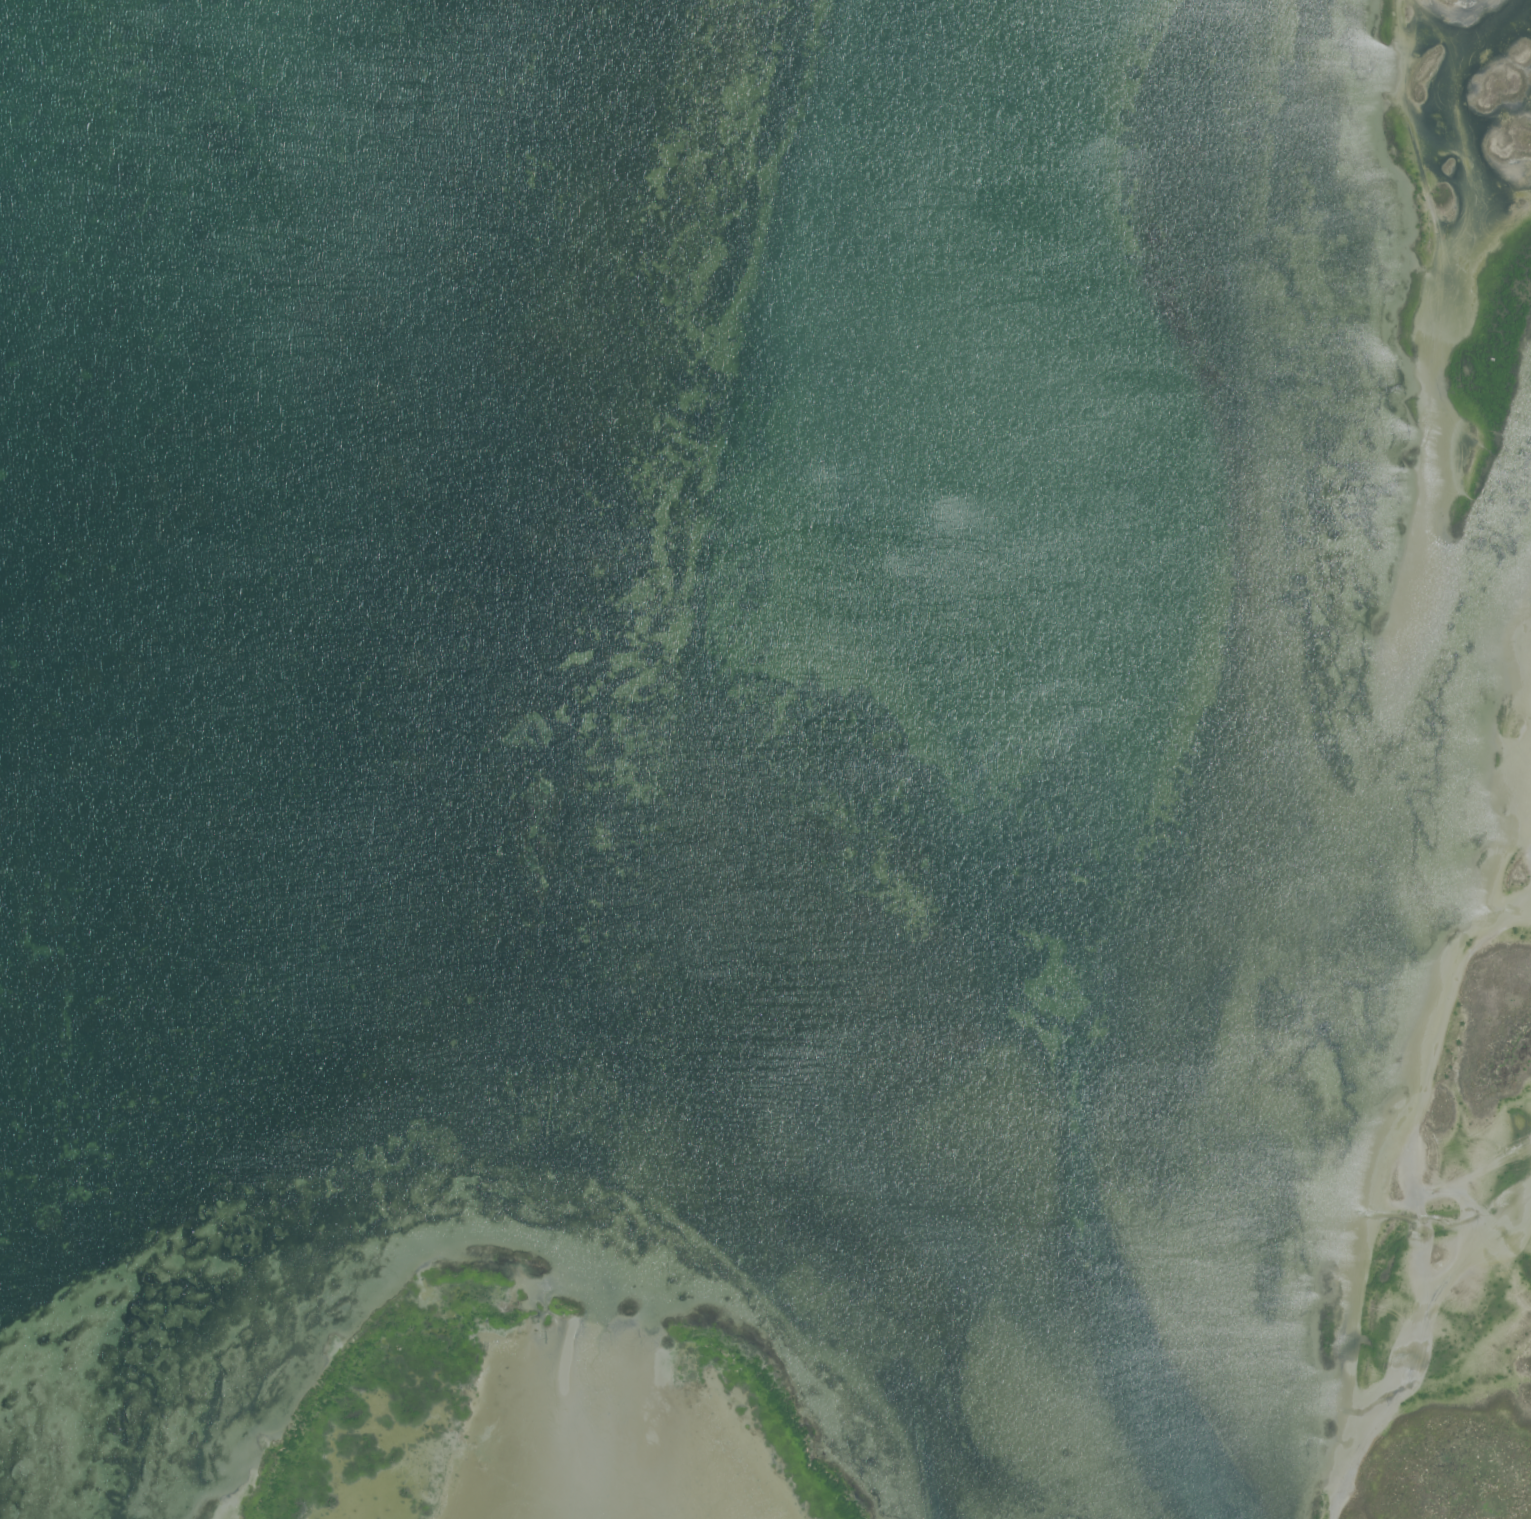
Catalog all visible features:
park: (1448, 302)
park: (1445, 1175)

